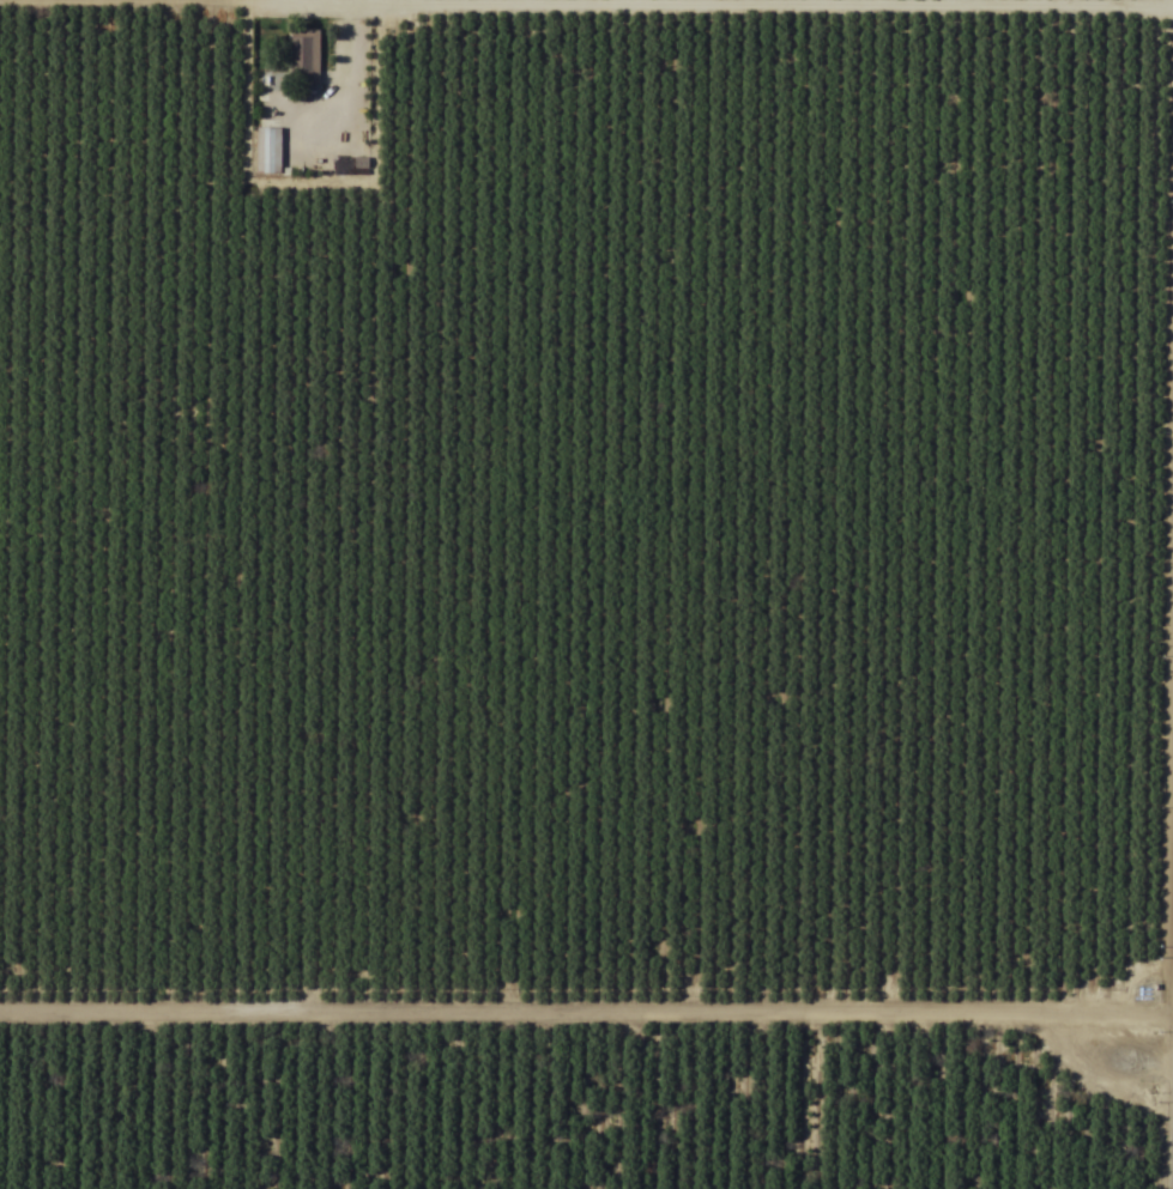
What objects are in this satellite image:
building: (302, 56)
road: (353, 75)
building: (266, 151)
crop: (586, 594)
road: (586, 982)

